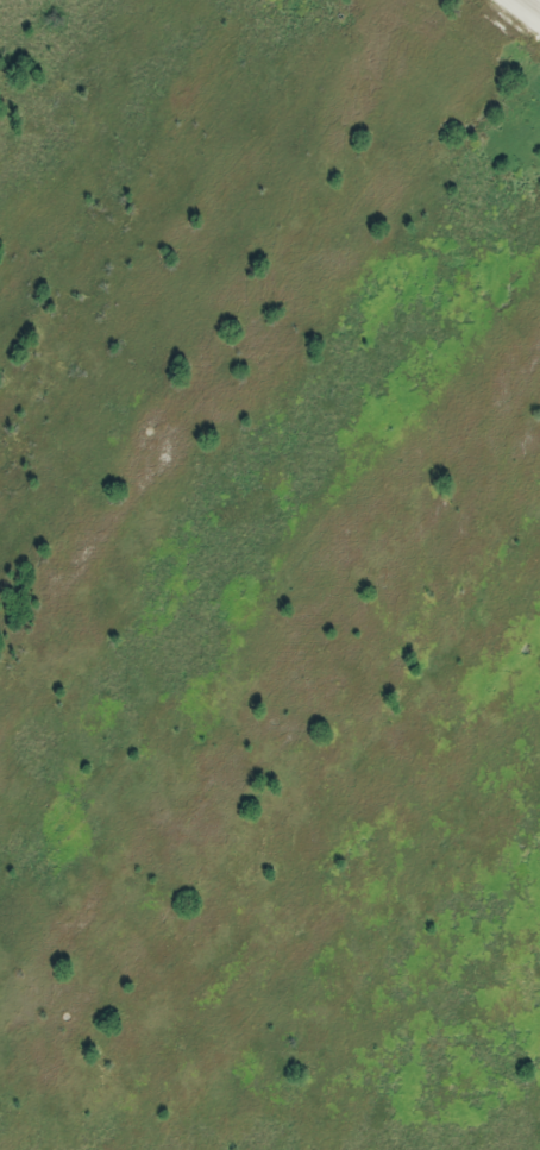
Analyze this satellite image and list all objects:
quarry: (270, 574)

